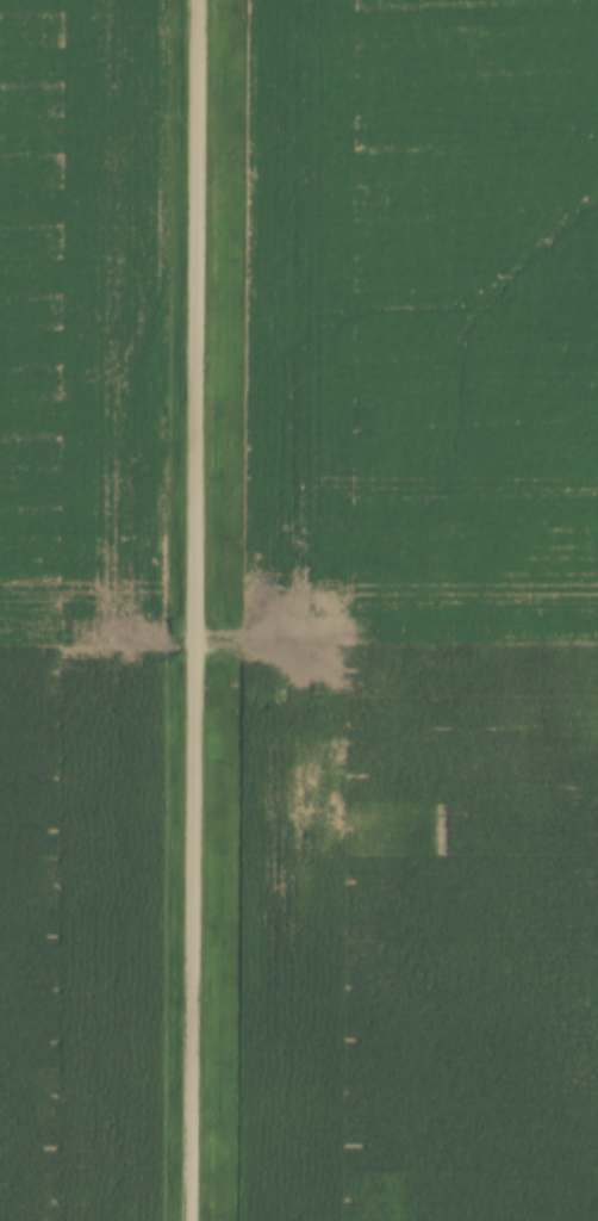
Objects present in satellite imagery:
road: (197, 610)
crop: (87, 612)
crop: (426, 613)
road: (276, 658)
building: (256, 693)

